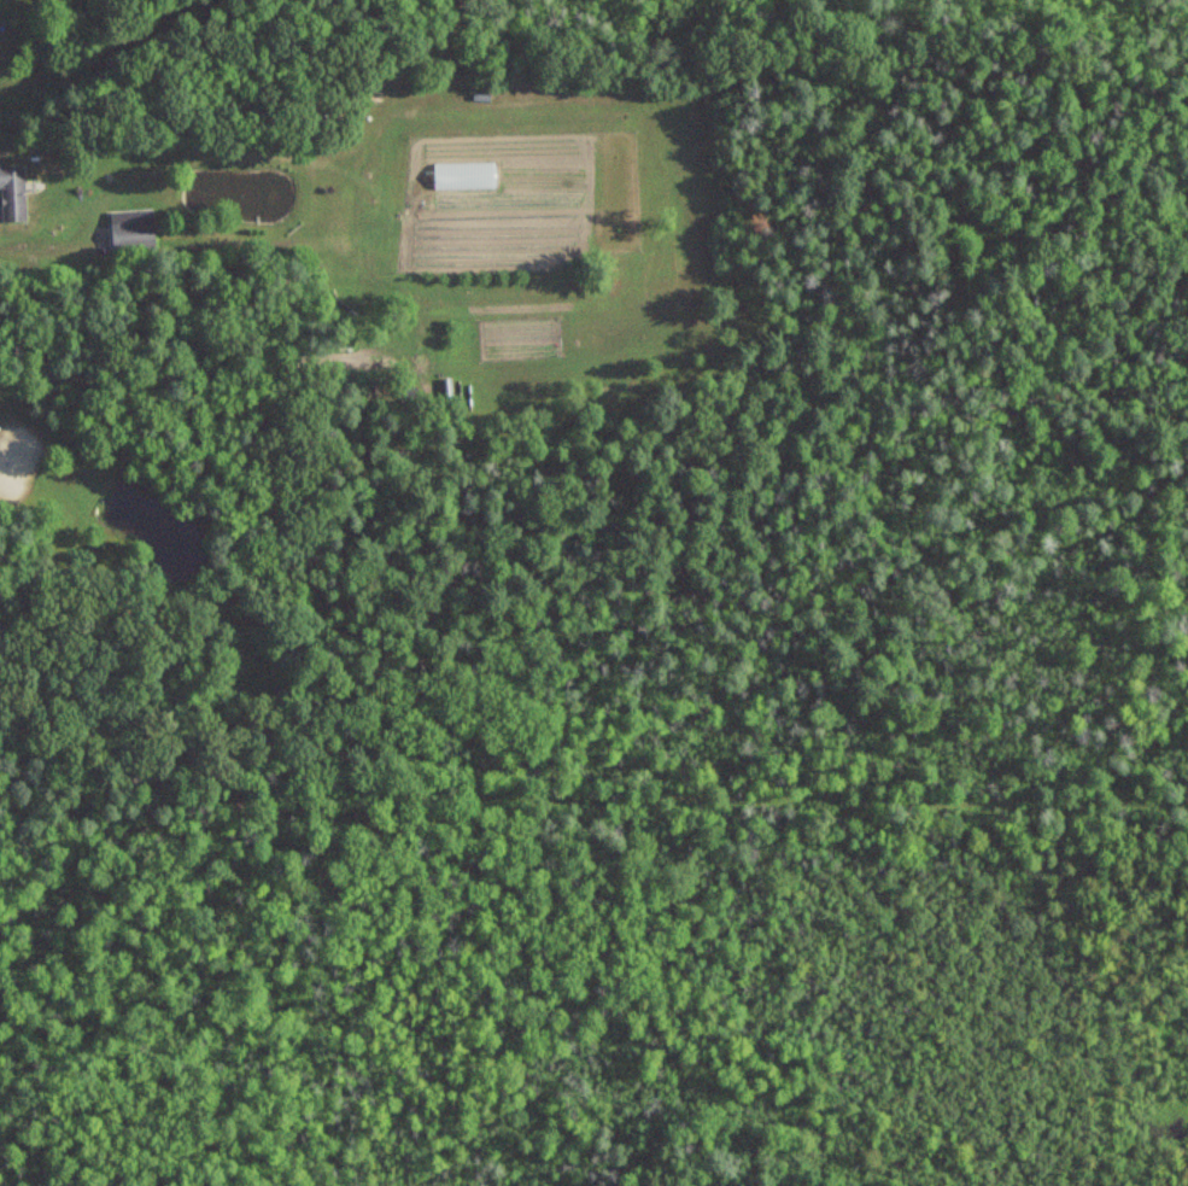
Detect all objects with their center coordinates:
building: (13, 191)
building: (131, 229)

